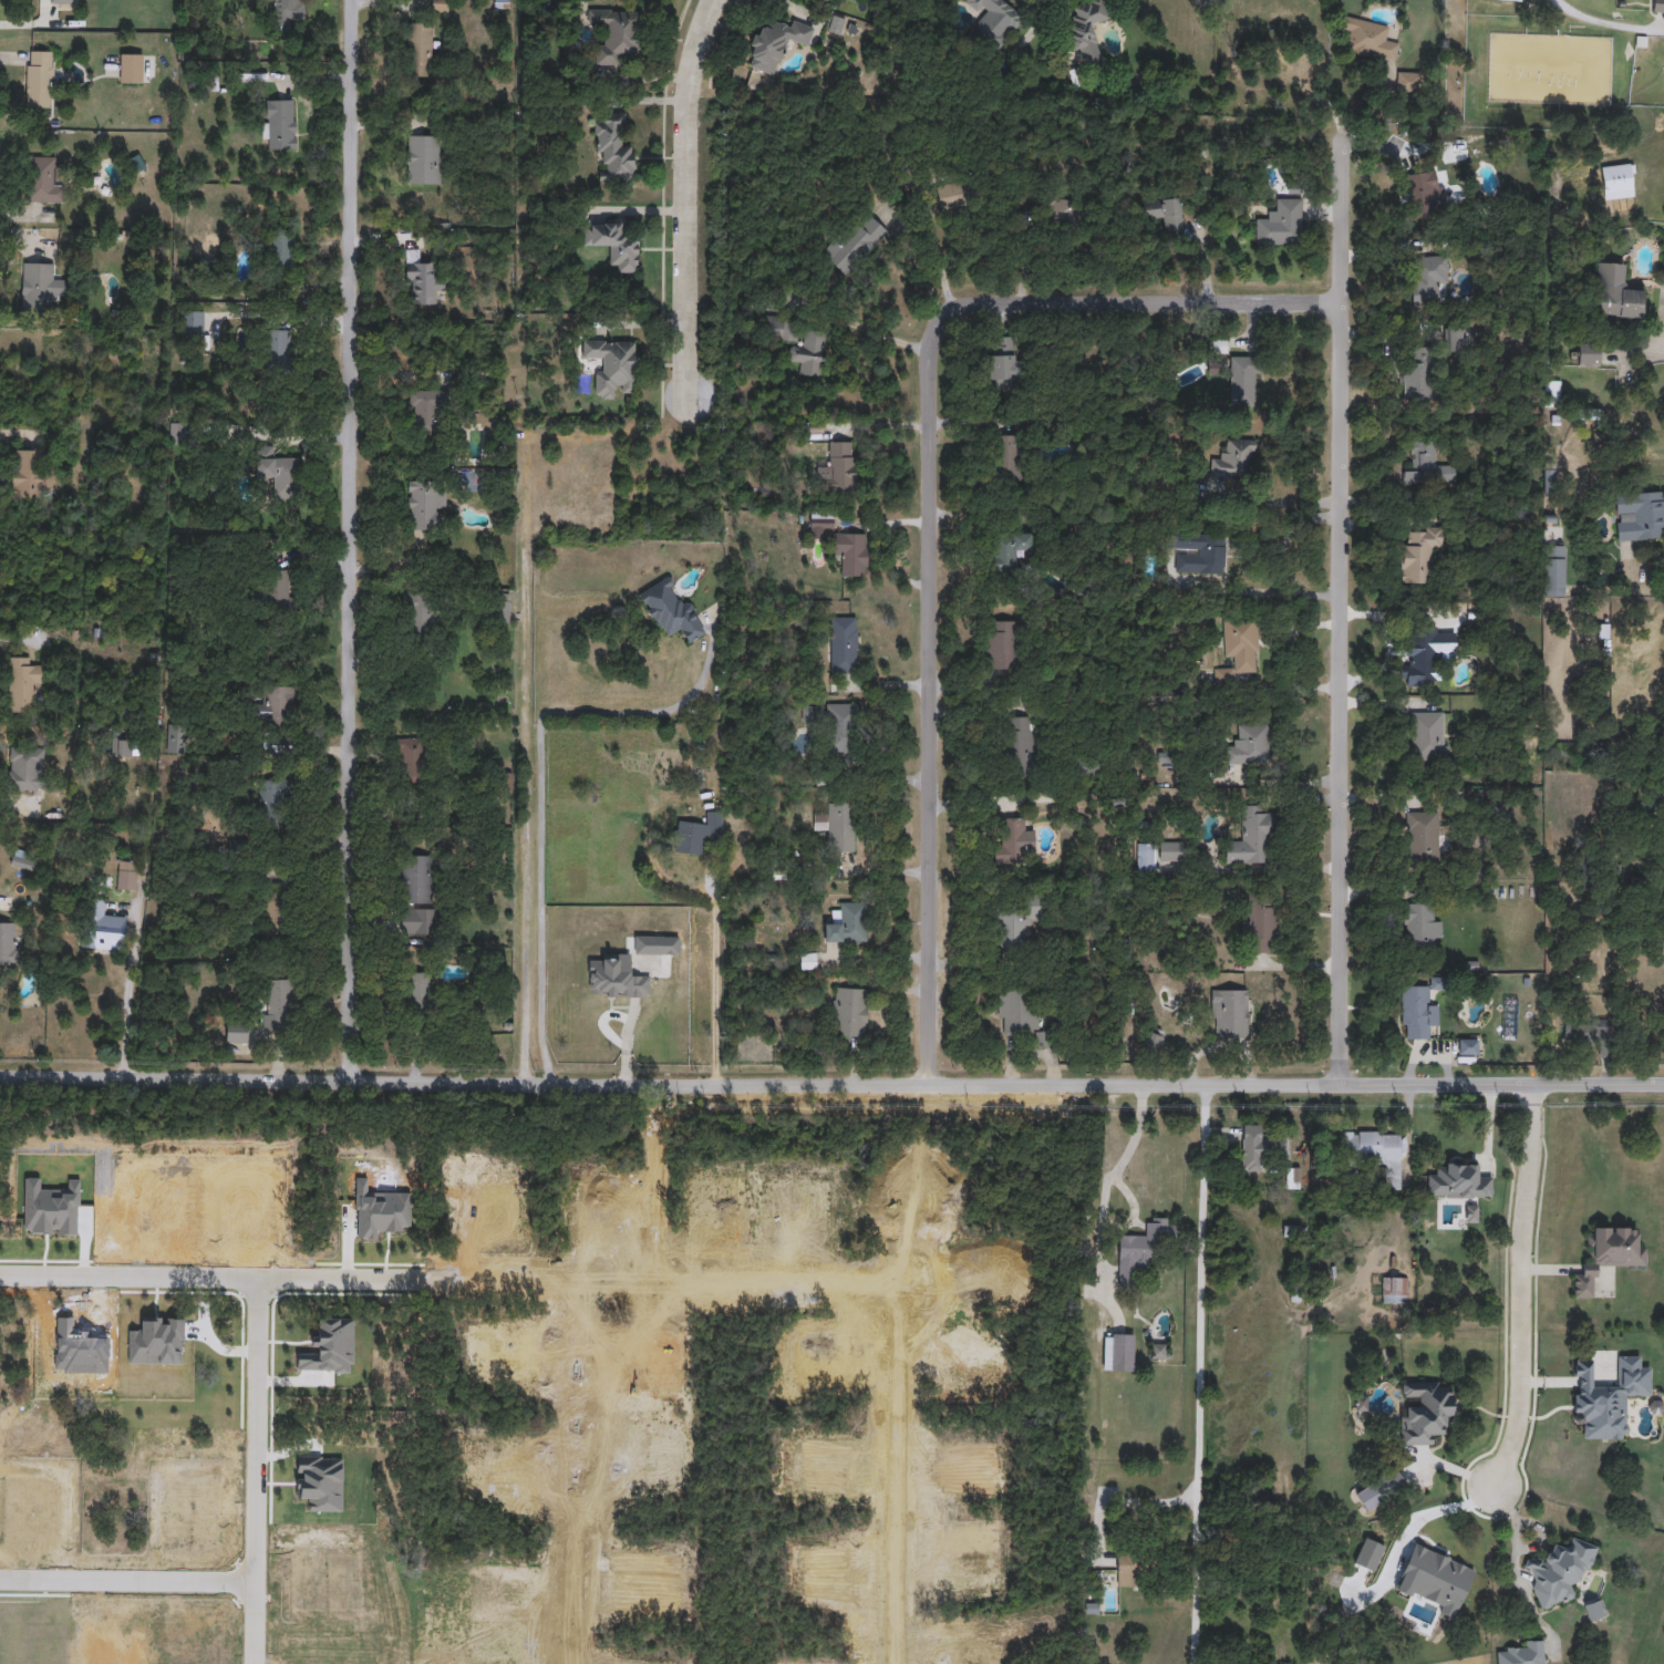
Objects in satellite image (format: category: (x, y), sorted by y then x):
building: (63, 0)
building: (1516, 0)
building: (438, 4)
building: (1657, 6)
building: (286, 11)
building: (996, 21)
road: (1604, 25)
building: (1087, 29)
building: (616, 34)
building: (1370, 38)
building: (775, 42)
building: (420, 50)
building: (39, 77)
building: (1406, 81)
building: (280, 123)
building: (613, 149)
building: (422, 155)
building: (42, 179)
building: (1618, 180)
building: (1424, 189)
road: (689, 197)
building: (1093, 204)
building: (1064, 211)
building: (1165, 213)
building: (1280, 224)
building: (855, 241)
building: (613, 242)
building: (282, 248)
road: (936, 256)
road: (918, 268)
building: (1427, 278)
building: (418, 279)
building: (38, 281)
building: (1615, 293)
building: (194, 321)
road: (1662, 329)
building: (1456, 339)
building: (276, 347)
building: (1588, 353)
building: (808, 354)
building: (1003, 363)
building: (610, 364)
building: (1418, 374)
building: (1242, 380)
building: (1552, 390)
building: (423, 411)
building: (1009, 457)
building: (1233, 458)
building: (1425, 465)
building: (837, 469)
building: (278, 471)
building: (30, 473)
building: (1548, 476)
road: (931, 500)
building: (424, 503)
road: (1275, 504)
building: (1640, 515)
building: (821, 521)
road: (352, 539)
building: (1007, 549)
building: (1418, 551)
building: (850, 552)
building: (1199, 552)
building: (1554, 567)
building: (275, 591)
building: (499, 608)
building: (669, 609)
road: (1340, 611)
building: (417, 613)
building: (1001, 643)
building: (844, 644)
building: (1429, 644)
building: (1239, 648)
building: (22, 684)
road: (967, 690)
building: (132, 710)
building: (278, 710)
building: (839, 725)
building: (1427, 736)
building: (176, 737)
building: (1020, 744)
building: (1249, 744)
building: (122, 745)
building: (410, 762)
building: (1082, 765)
building: (24, 766)
road: (539, 787)
building: (275, 799)
building: (1117, 803)
building: (839, 826)
building: (699, 831)
building: (1422, 836)
building: (1250, 837)
building: (1014, 839)
building: (1169, 850)
building: (1146, 857)
building: (127, 874)
building: (414, 879)
building: (273, 912)
building: (1015, 918)
building: (415, 920)
building: (846, 922)
building: (1420, 924)
building: (1259, 927)
building: (103, 928)
building: (7, 942)
building: (648, 944)
building: (808, 961)
road: (713, 973)
building: (614, 976)
building: (418, 999)
building: (278, 1004)
road: (137, 1007)
building: (1017, 1010)
building: (849, 1011)
building: (1229, 1012)
building: (1417, 1012)
building: (1587, 1030)
building: (237, 1033)
building: (1153, 1040)
building: (1467, 1045)
road: (831, 1083)
building: (1259, 1148)
building: (1370, 1154)
building: (1458, 1181)
road: (1117, 1186)
building: (1143, 1250)
building: (1606, 1255)
road: (217, 1280)
road: (1522, 1289)
building: (1394, 1291)
building: (1117, 1353)
road: (1200, 1375)
building: (1424, 1412)
road: (255, 1471)
building: (1388, 1484)
building: (124, 1498)
road: (1130, 1503)
road: (1515, 1560)
building: (1126, 1570)
building: (1559, 1572)
road: (126, 1580)
building: (430, 1584)
building: (1593, 1611)
building: (1522, 1653)

